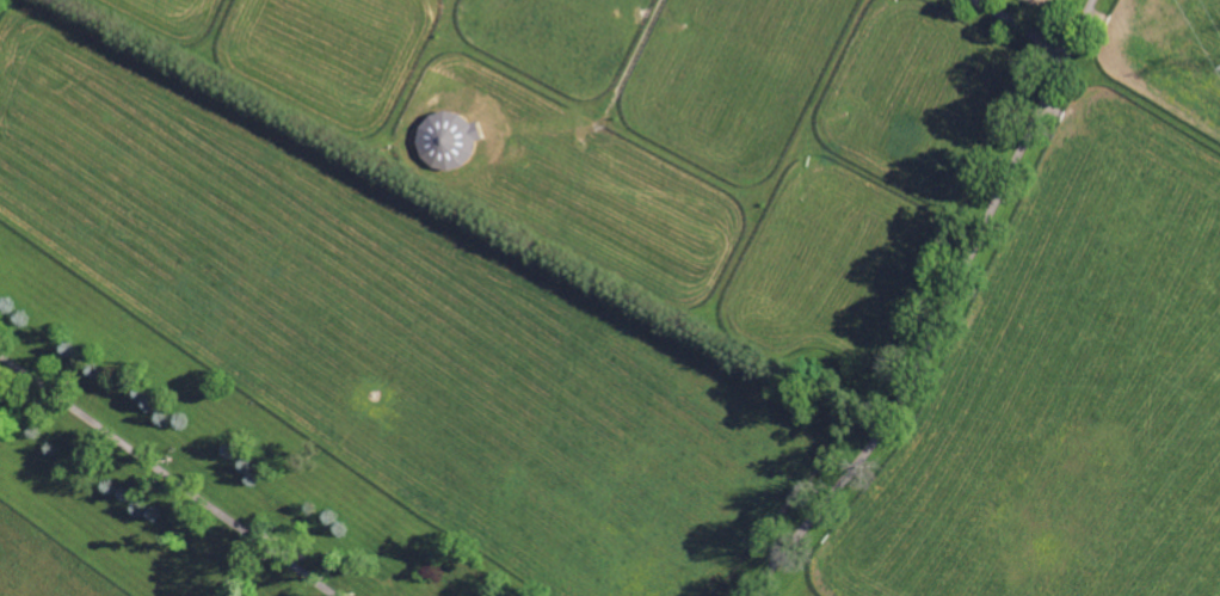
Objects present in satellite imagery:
road: (1022, 24)
road: (950, 311)
road: (167, 474)

